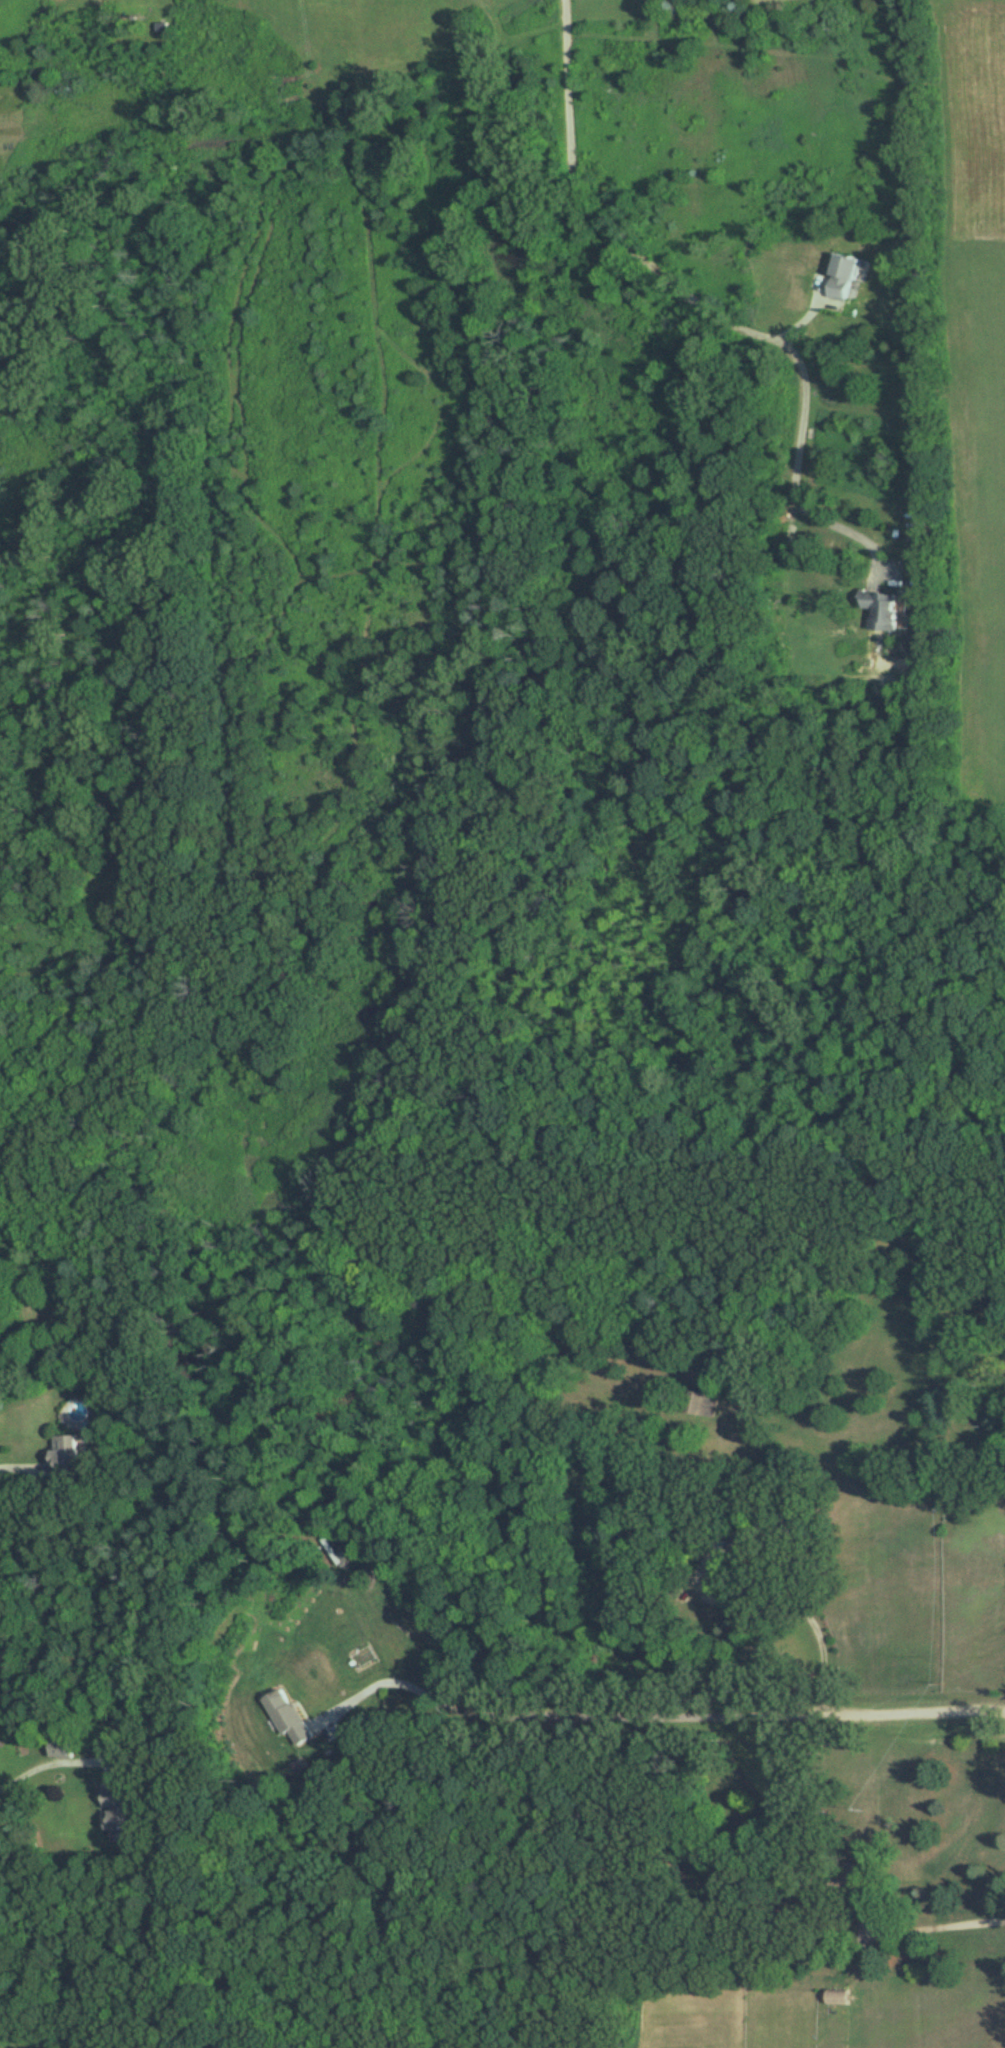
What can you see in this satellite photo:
building: (839, 277)
road: (647, 282)
road: (843, 544)
building: (879, 610)
building: (696, 1402)
building: (61, 1455)
road: (16, 1469)
building: (710, 1544)
road: (783, 1603)
road: (625, 1707)
building: (284, 1715)
road: (47, 1779)
building: (117, 1815)
building: (847, 1881)
road: (933, 1927)
building: (835, 1996)
road: (116, 2034)

